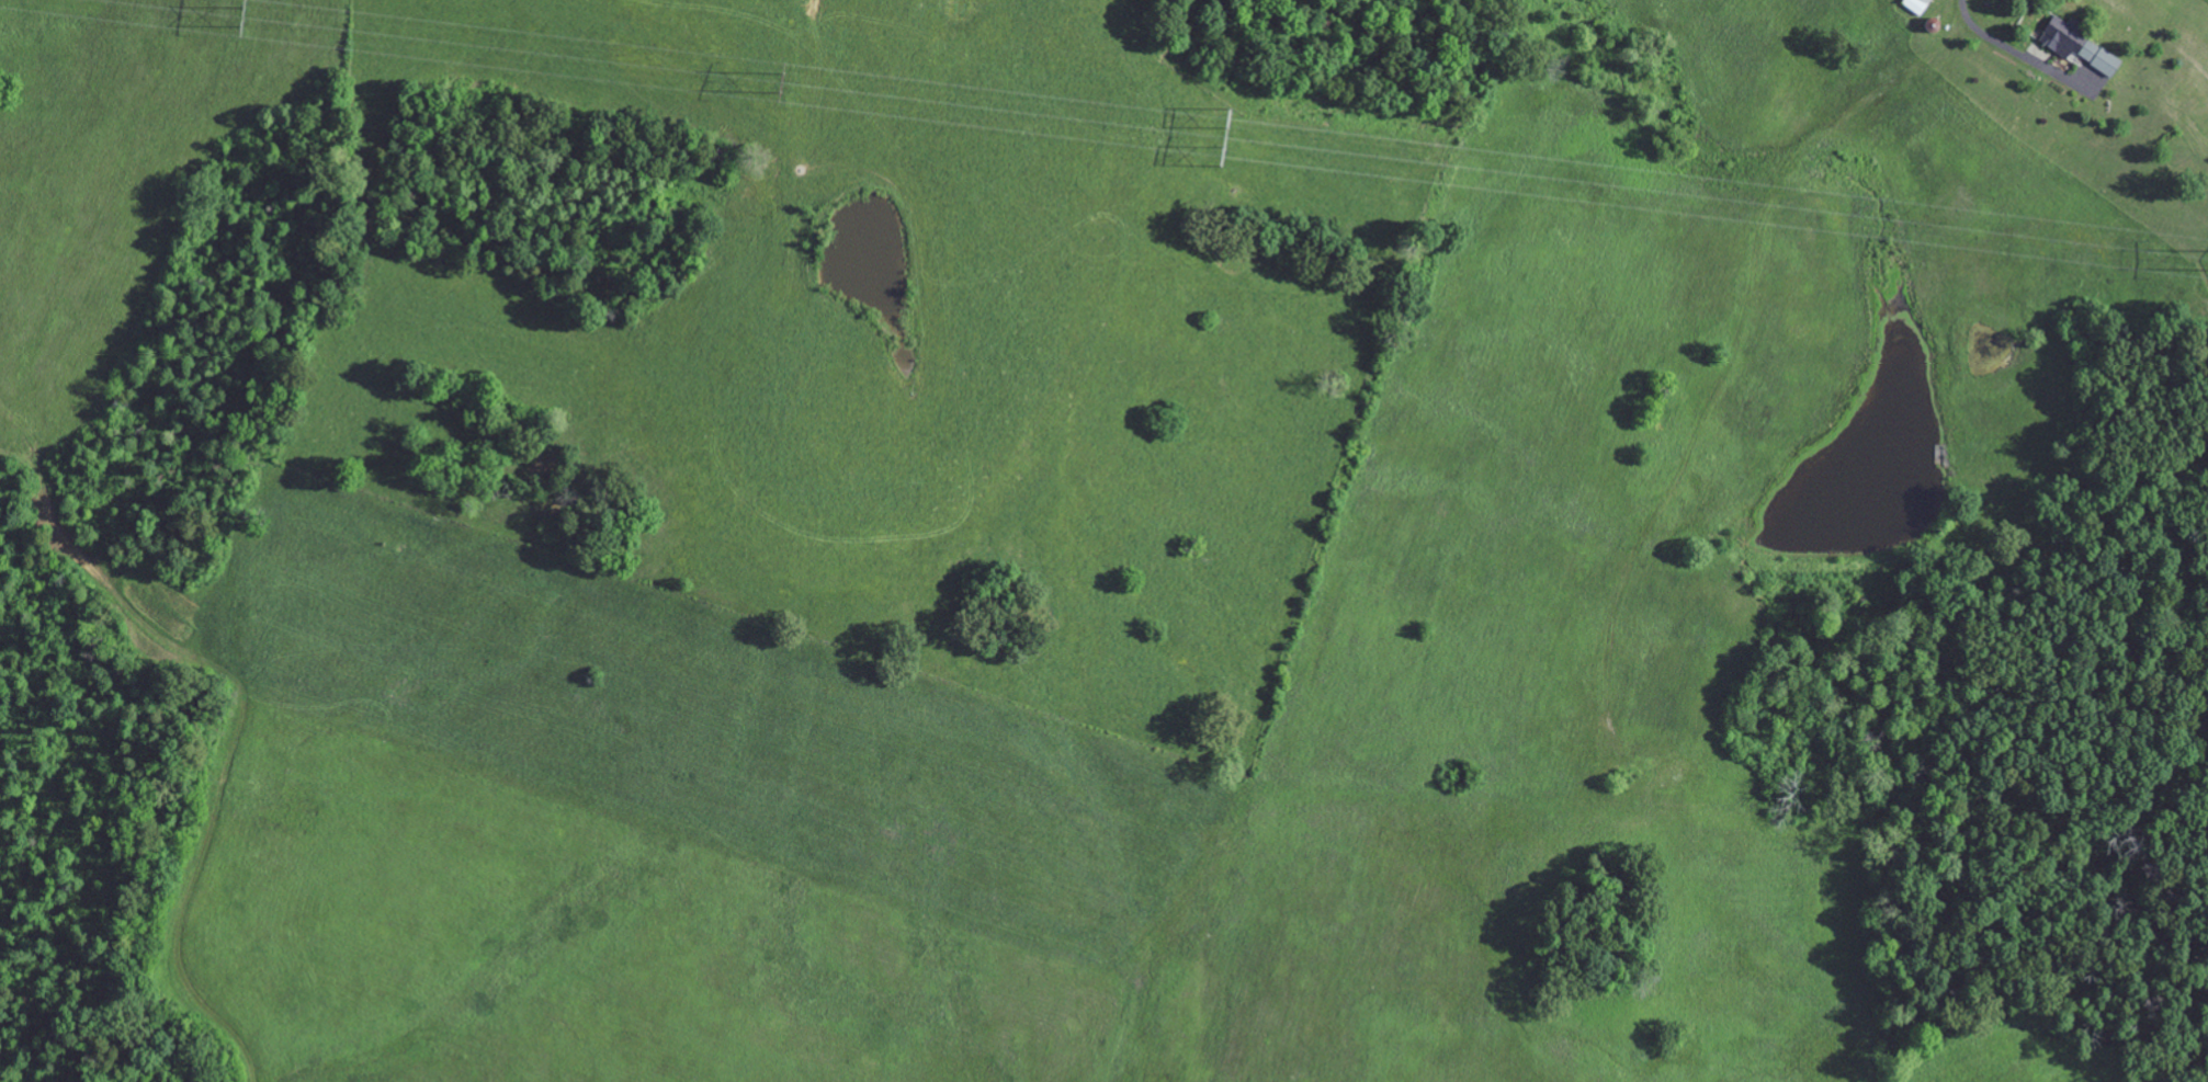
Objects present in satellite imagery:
building: (1920, 5)
power tower: (240, 13)
road: (1972, 21)
building: (2079, 45)
power tower: (784, 82)
power tower: (1223, 136)

